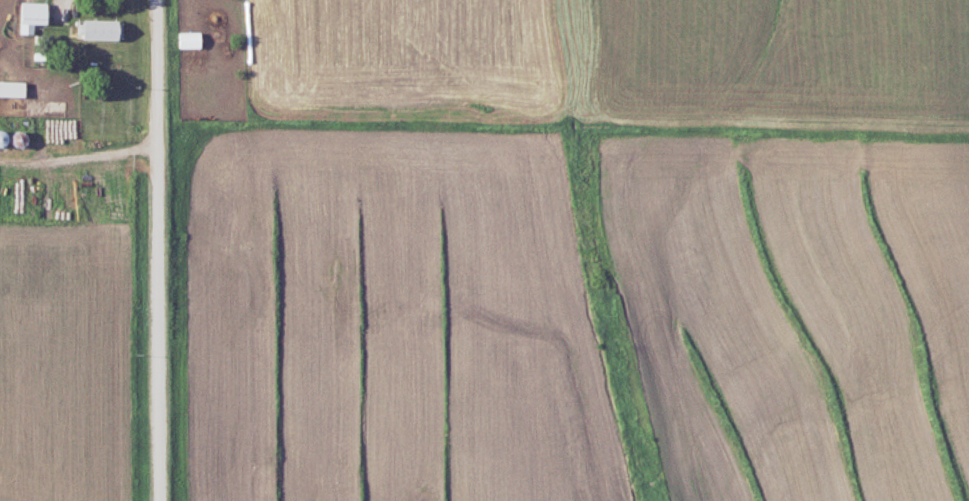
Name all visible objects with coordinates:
building: (33, 14)
building: (98, 29)
building: (188, 39)
road: (160, 250)

